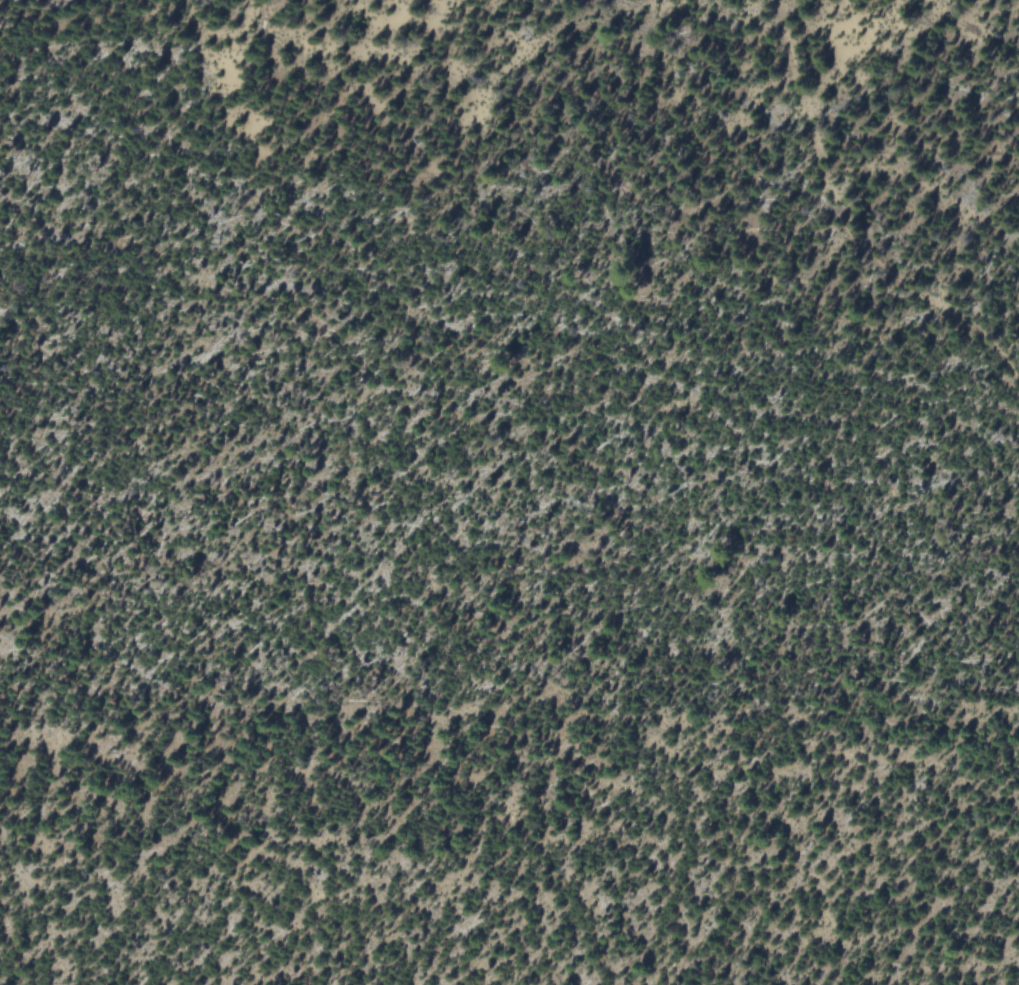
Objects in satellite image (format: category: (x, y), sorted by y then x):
road: (871, 223)

